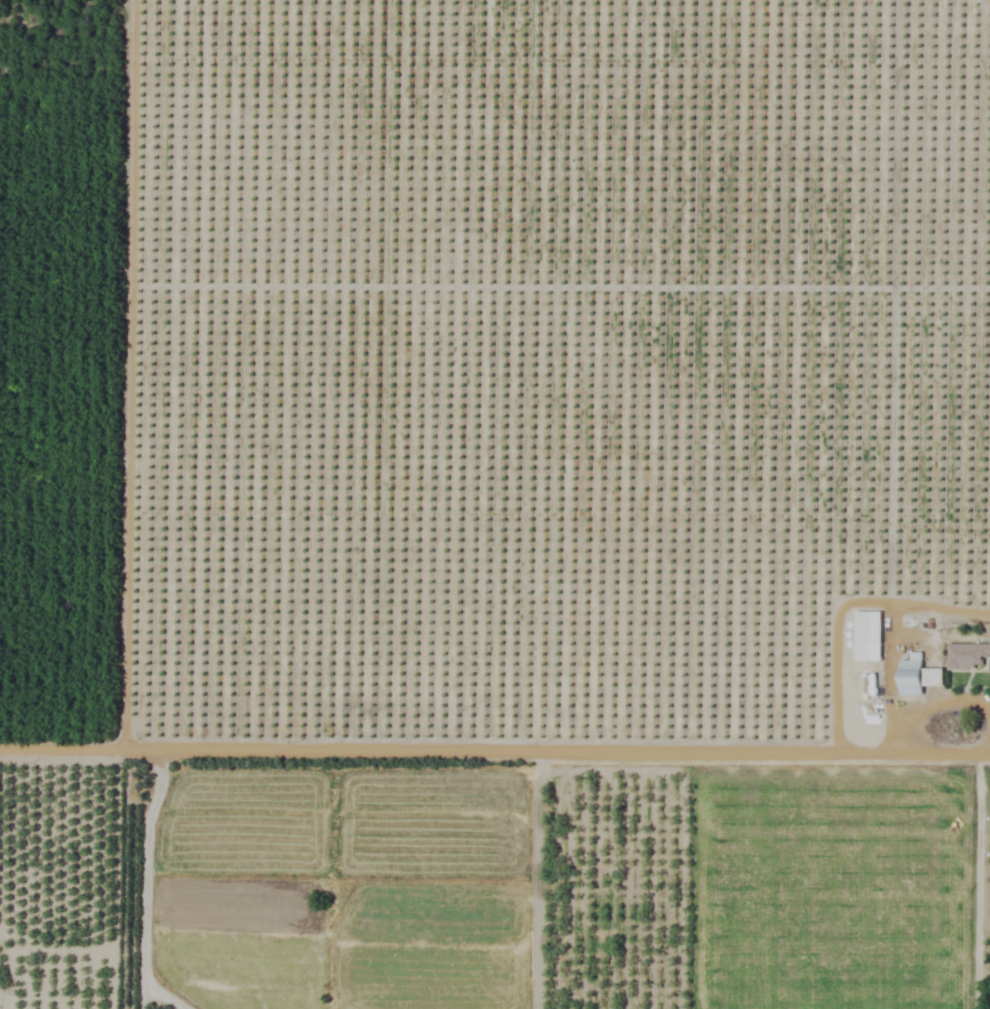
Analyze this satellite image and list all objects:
building: (220, 402)
crop: (495, 504)
road: (845, 602)
building: (867, 636)
building: (966, 655)
building: (916, 676)
road: (935, 696)
road: (494, 750)
road: (977, 880)
road: (141, 883)

